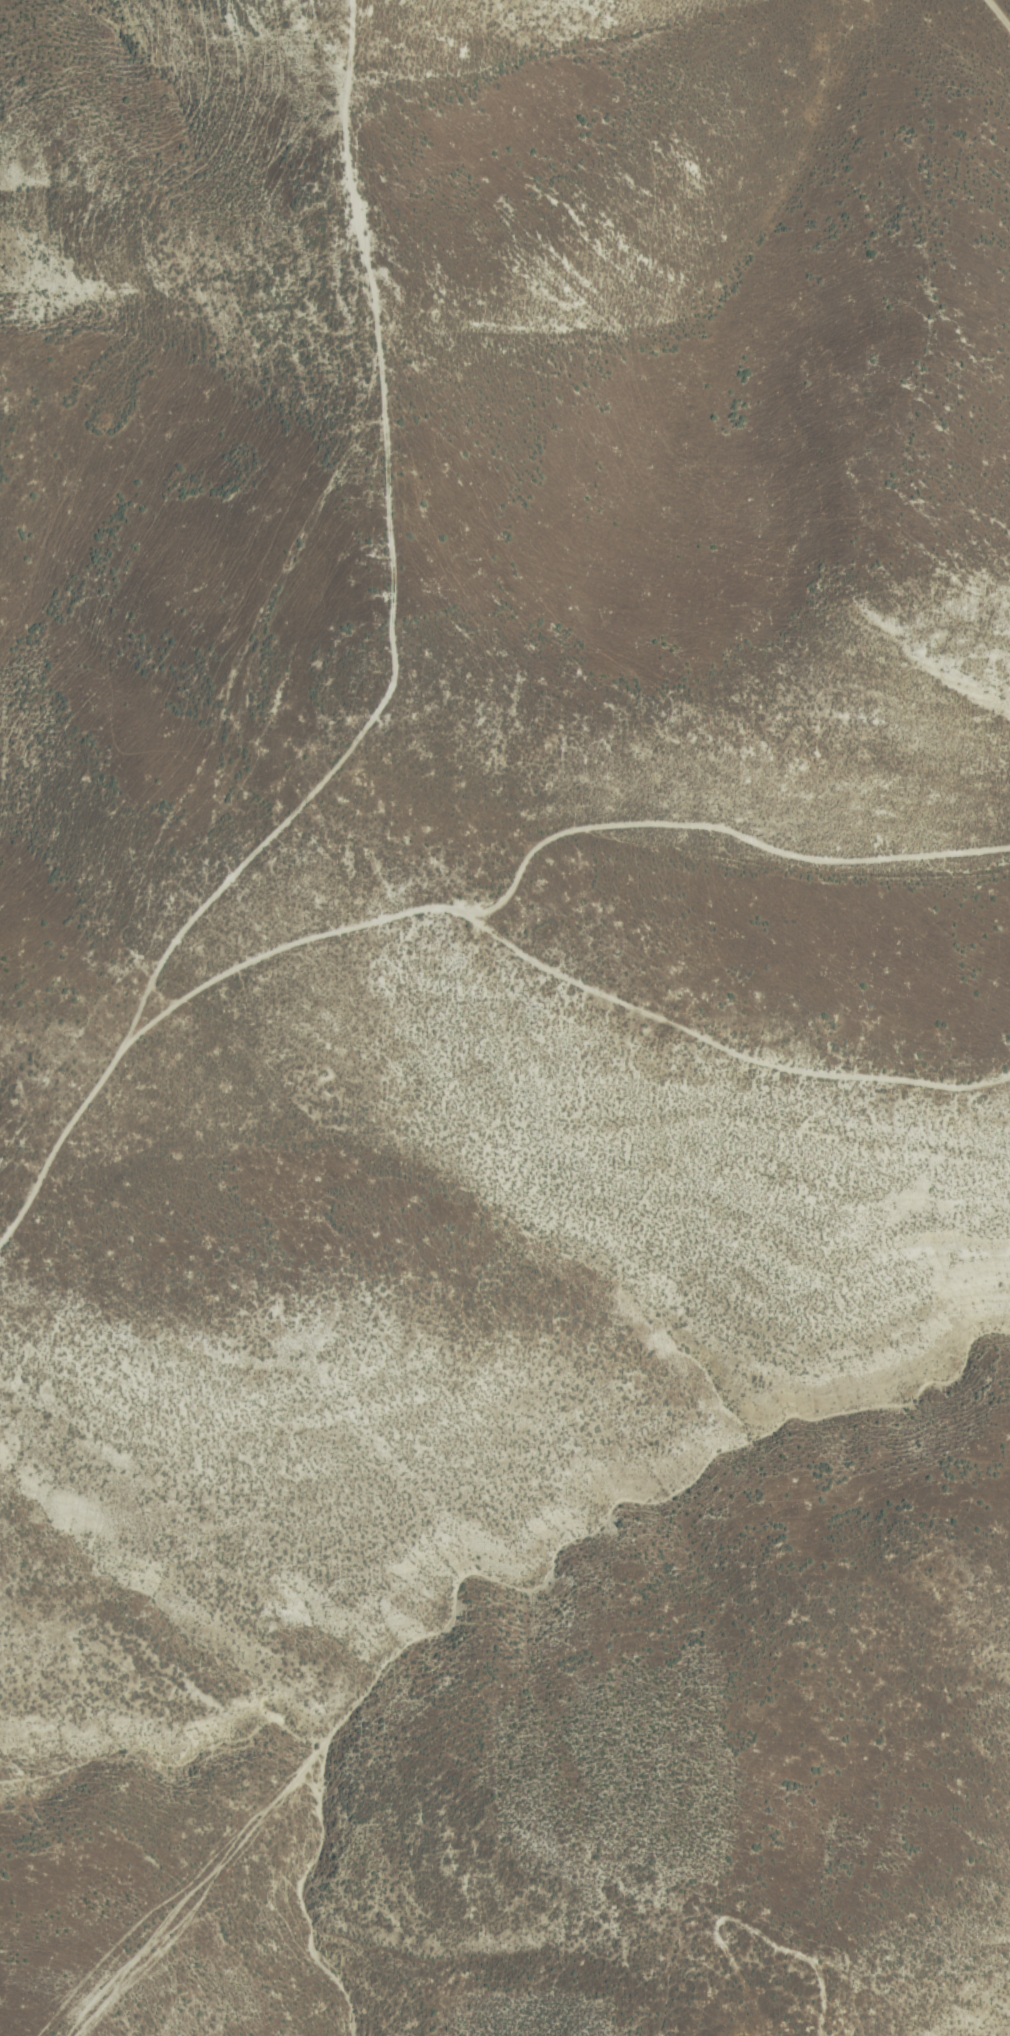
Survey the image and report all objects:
road: (1000, 12)
road: (389, 570)
road: (447, 909)
road: (718, 1045)
road: (203, 1887)
road: (830, 2005)

